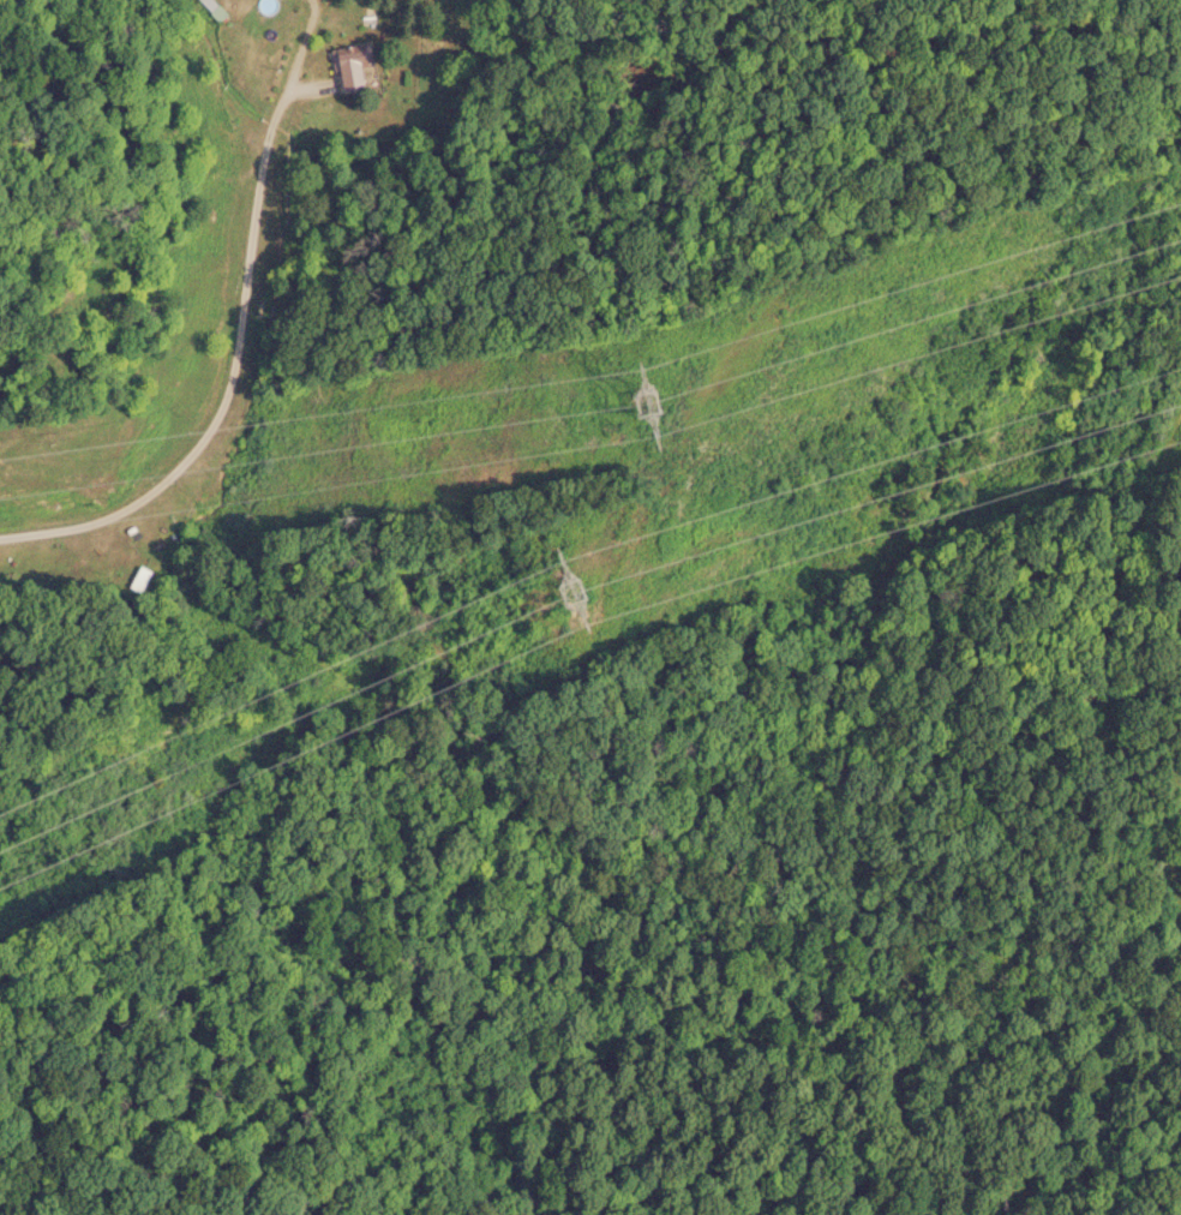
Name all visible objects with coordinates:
building: (349, 64)
road: (230, 378)
power tower: (665, 412)
power tower: (583, 604)
road: (1147, 856)

